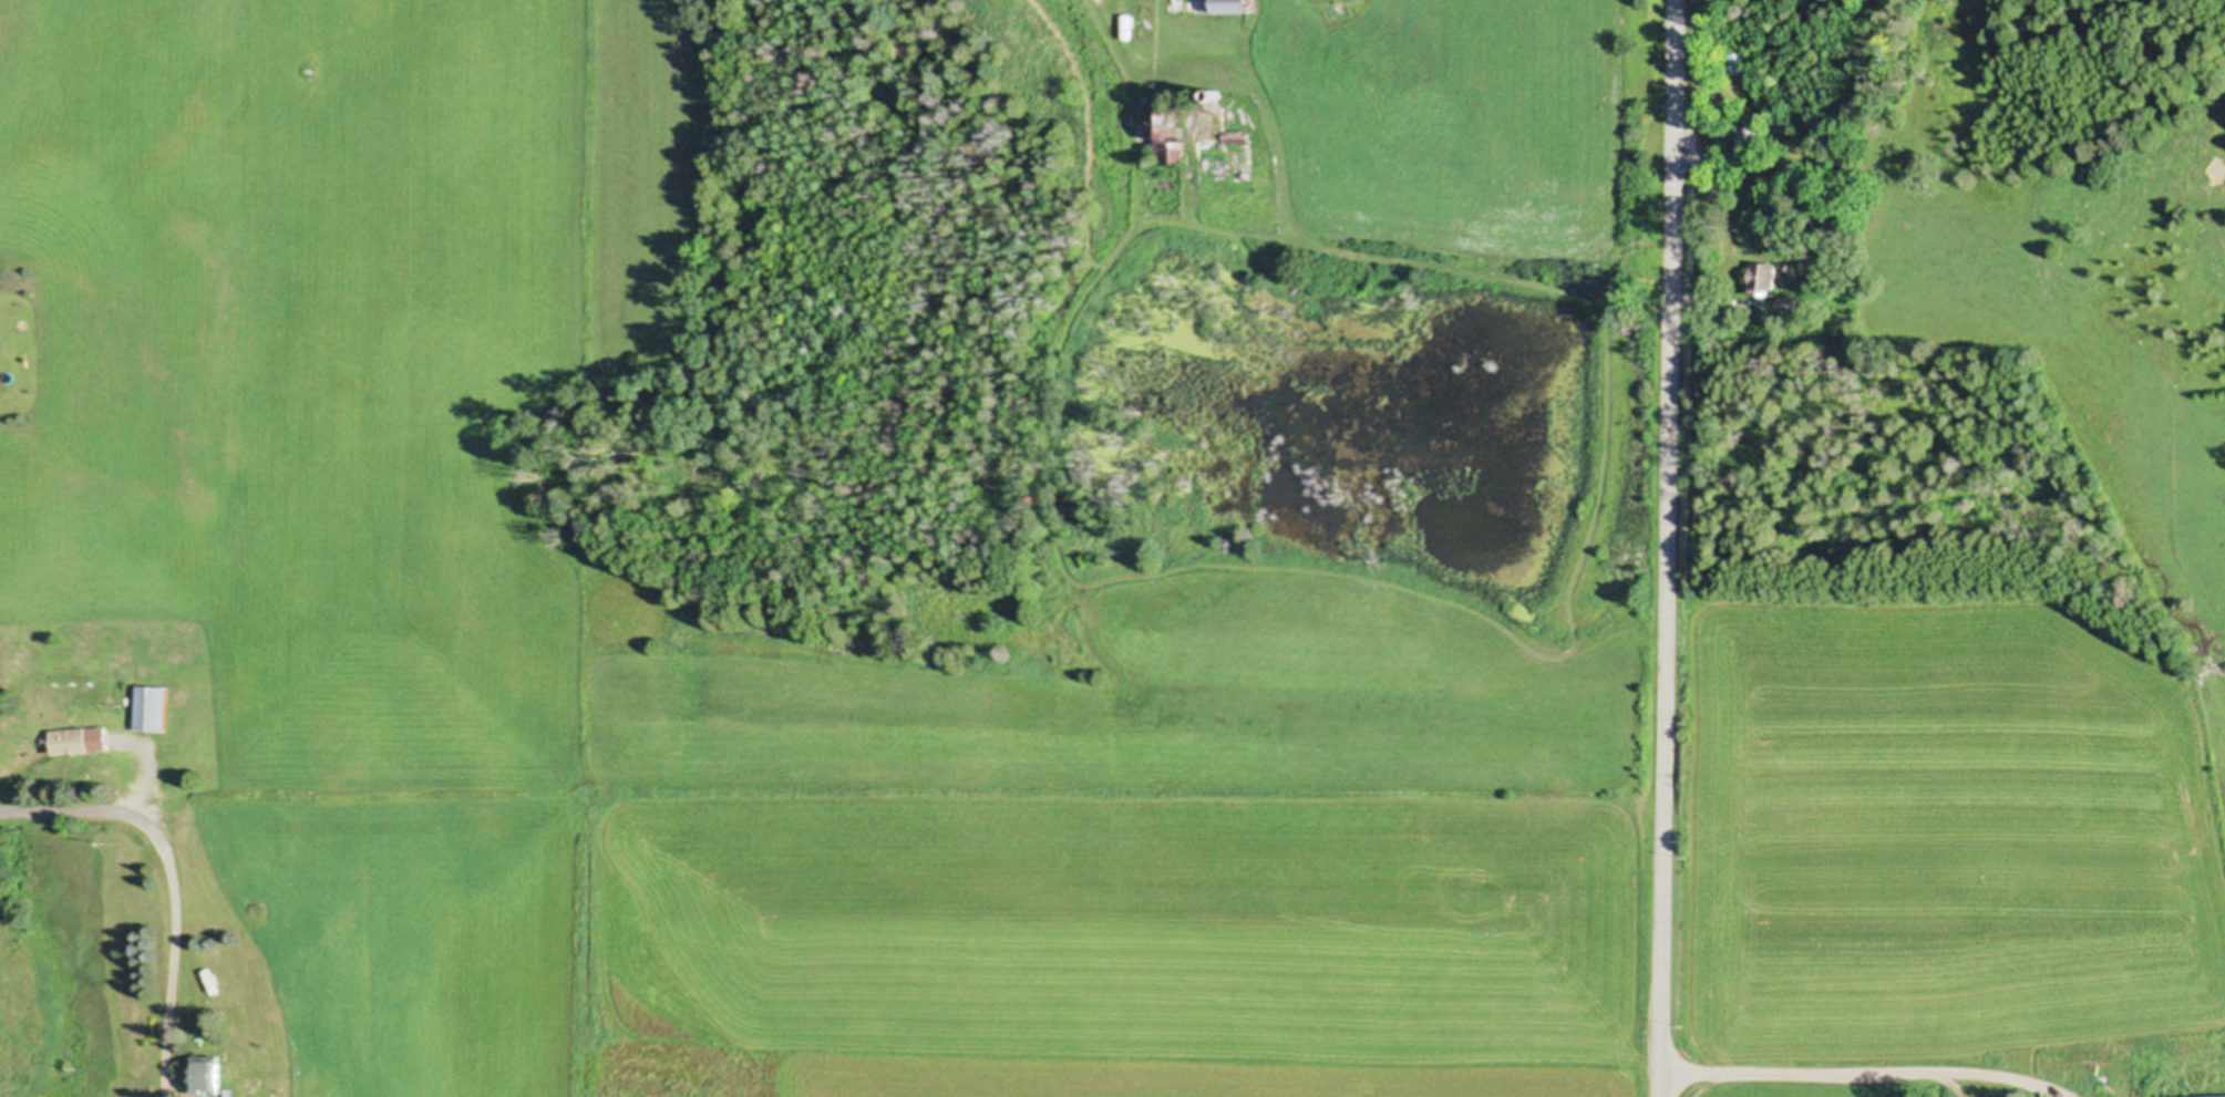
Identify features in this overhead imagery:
road: (1103, 14)
road: (1707, 303)
road: (1667, 548)
road: (62, 814)
road: (175, 901)
road: (1862, 1076)
road: (165, 1083)
road: (174, 1083)

